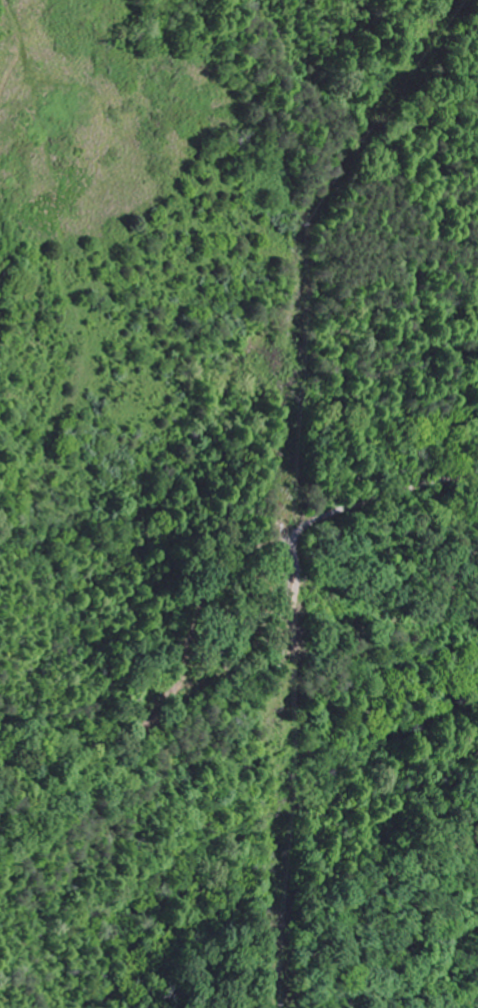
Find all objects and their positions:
road: (476, 1006)

